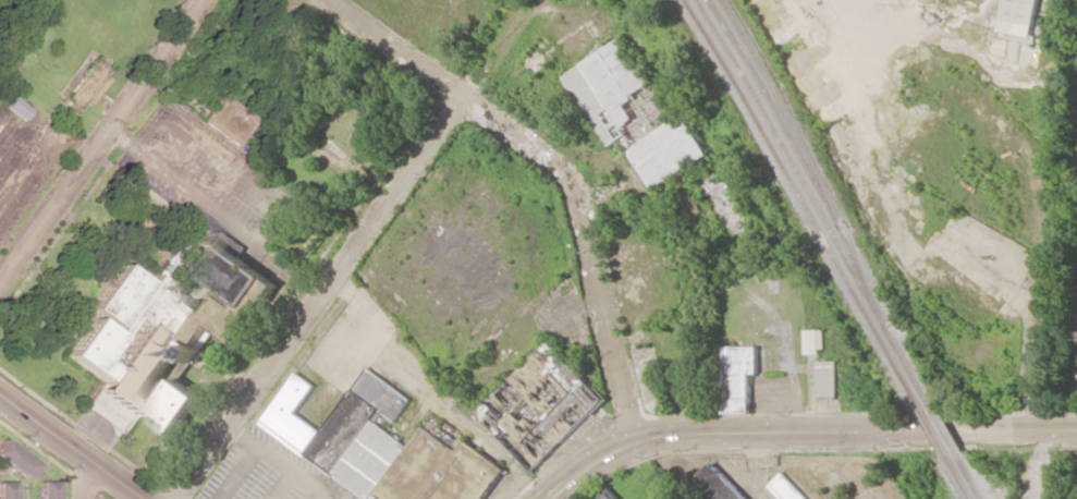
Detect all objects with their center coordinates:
road: (529, 1)
road: (564, 12)
building: (1019, 16)
building: (85, 84)
building: (14, 108)
building: (633, 113)
building: (225, 119)
road: (99, 139)
road: (558, 167)
railway: (803, 202)
railway: (816, 203)
road: (352, 249)
building: (227, 269)
building: (118, 295)
building: (168, 305)
building: (230, 316)
building: (813, 340)
building: (127, 361)
building: (738, 376)
building: (825, 378)
building: (175, 405)
building: (541, 405)
railway: (930, 427)
railway: (943, 430)
road: (806, 433)
building: (384, 446)
road: (66, 449)
building: (16, 460)
road: (280, 461)
road: (240, 472)
parking lot: (268, 472)
railway: (955, 474)
railway: (967, 475)
road: (85, 480)
building: (720, 484)
road: (281, 485)
building: (787, 488)
building: (46, 489)
building: (7, 490)
building: (607, 495)
road: (323, 497)

